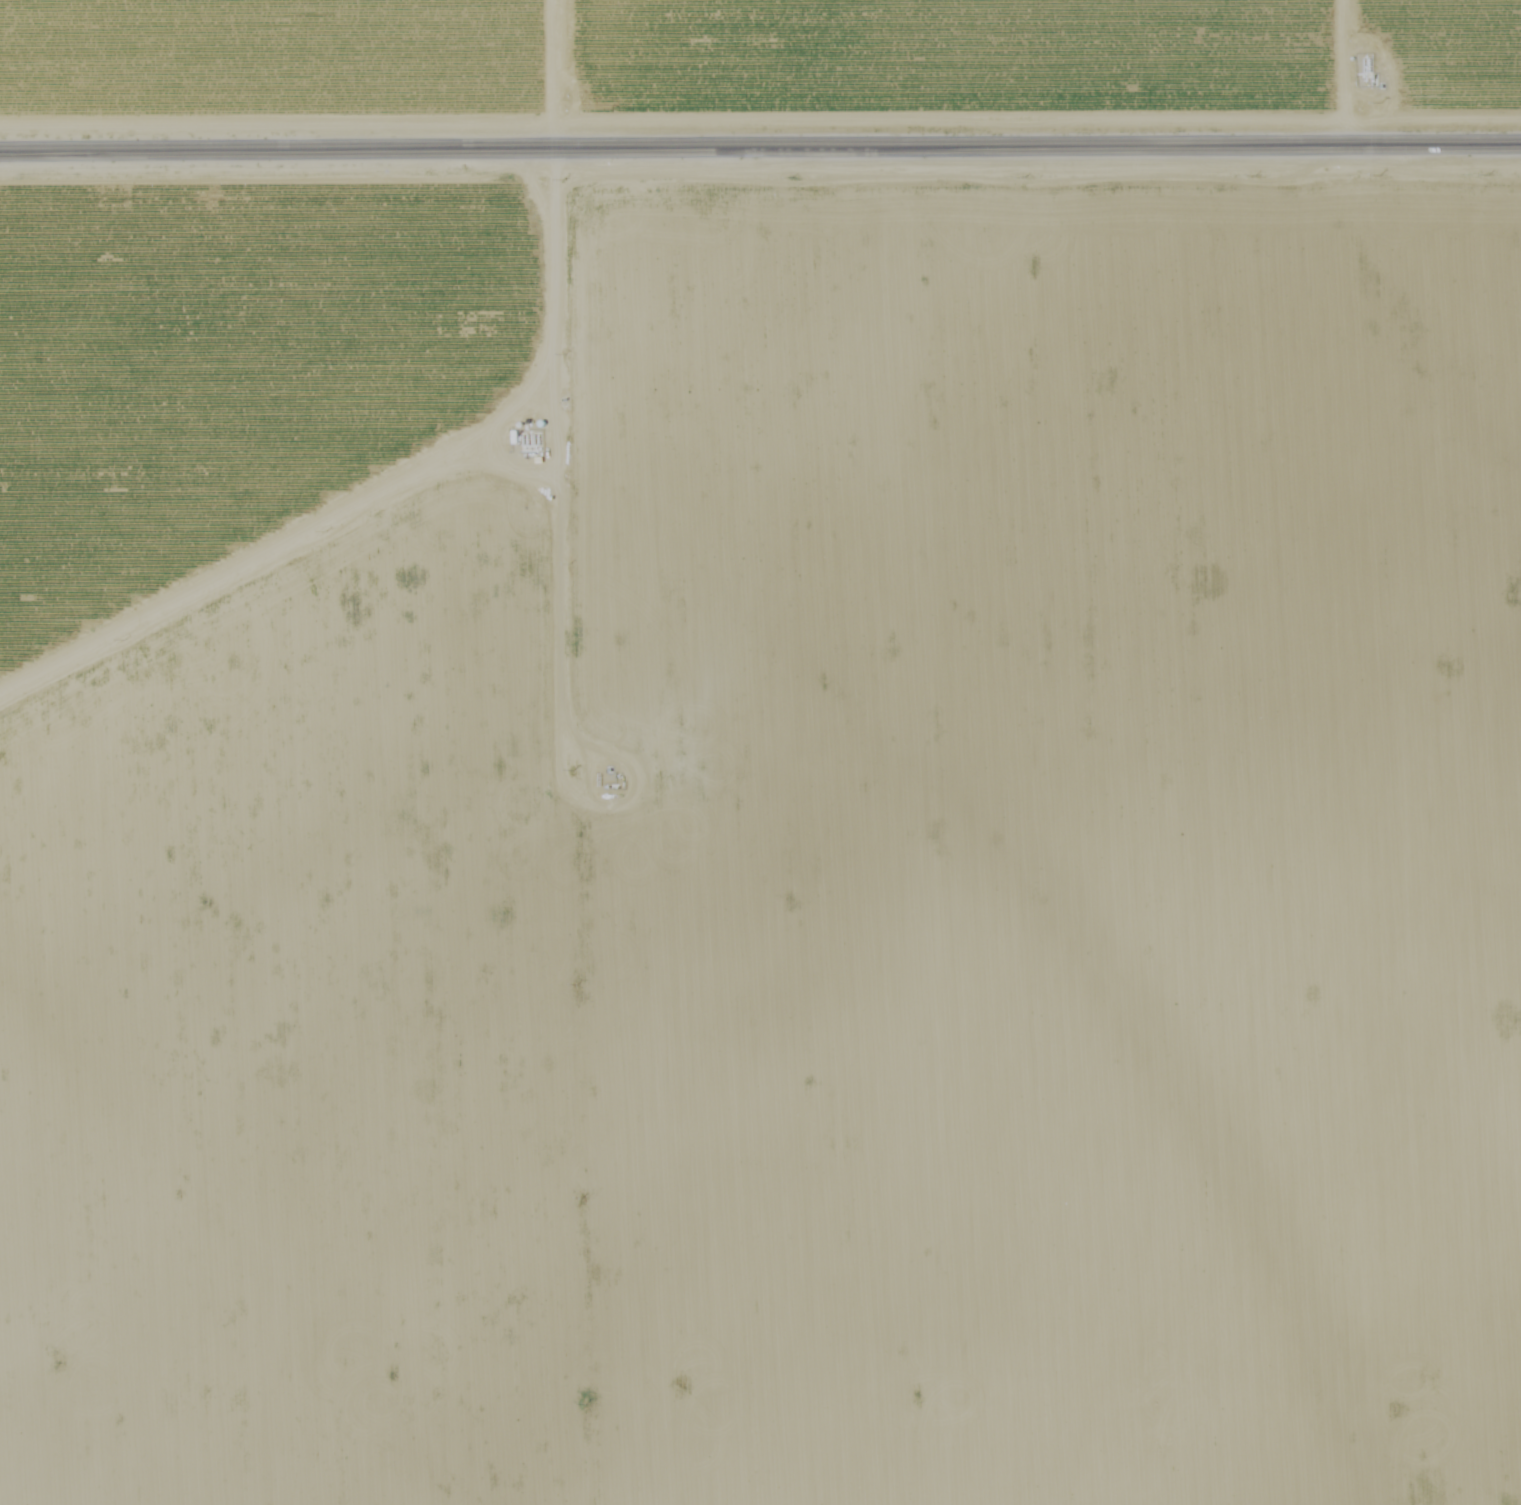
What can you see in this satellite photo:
crop: (277, 57)
crop: (1040, 58)
road: (760, 149)
crop: (1045, 846)
crop: (285, 852)

